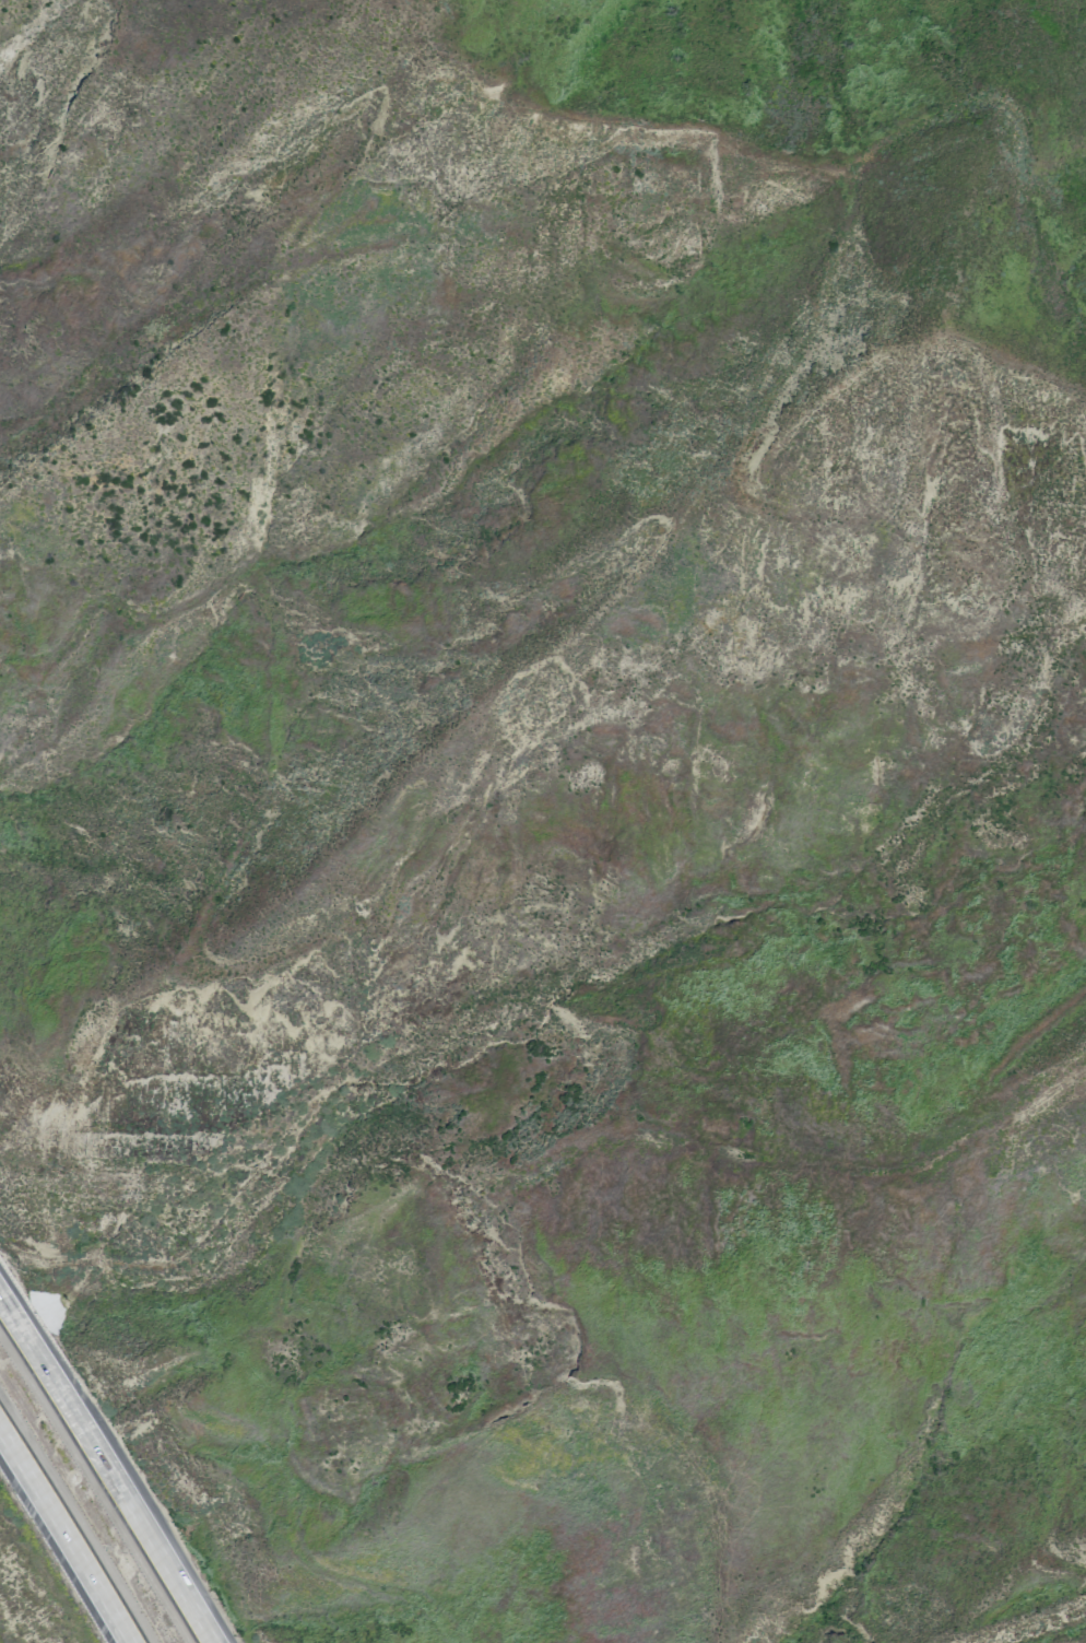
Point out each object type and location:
road: (826, 302)
road: (448, 914)
road: (106, 1468)
road: (67, 1533)

